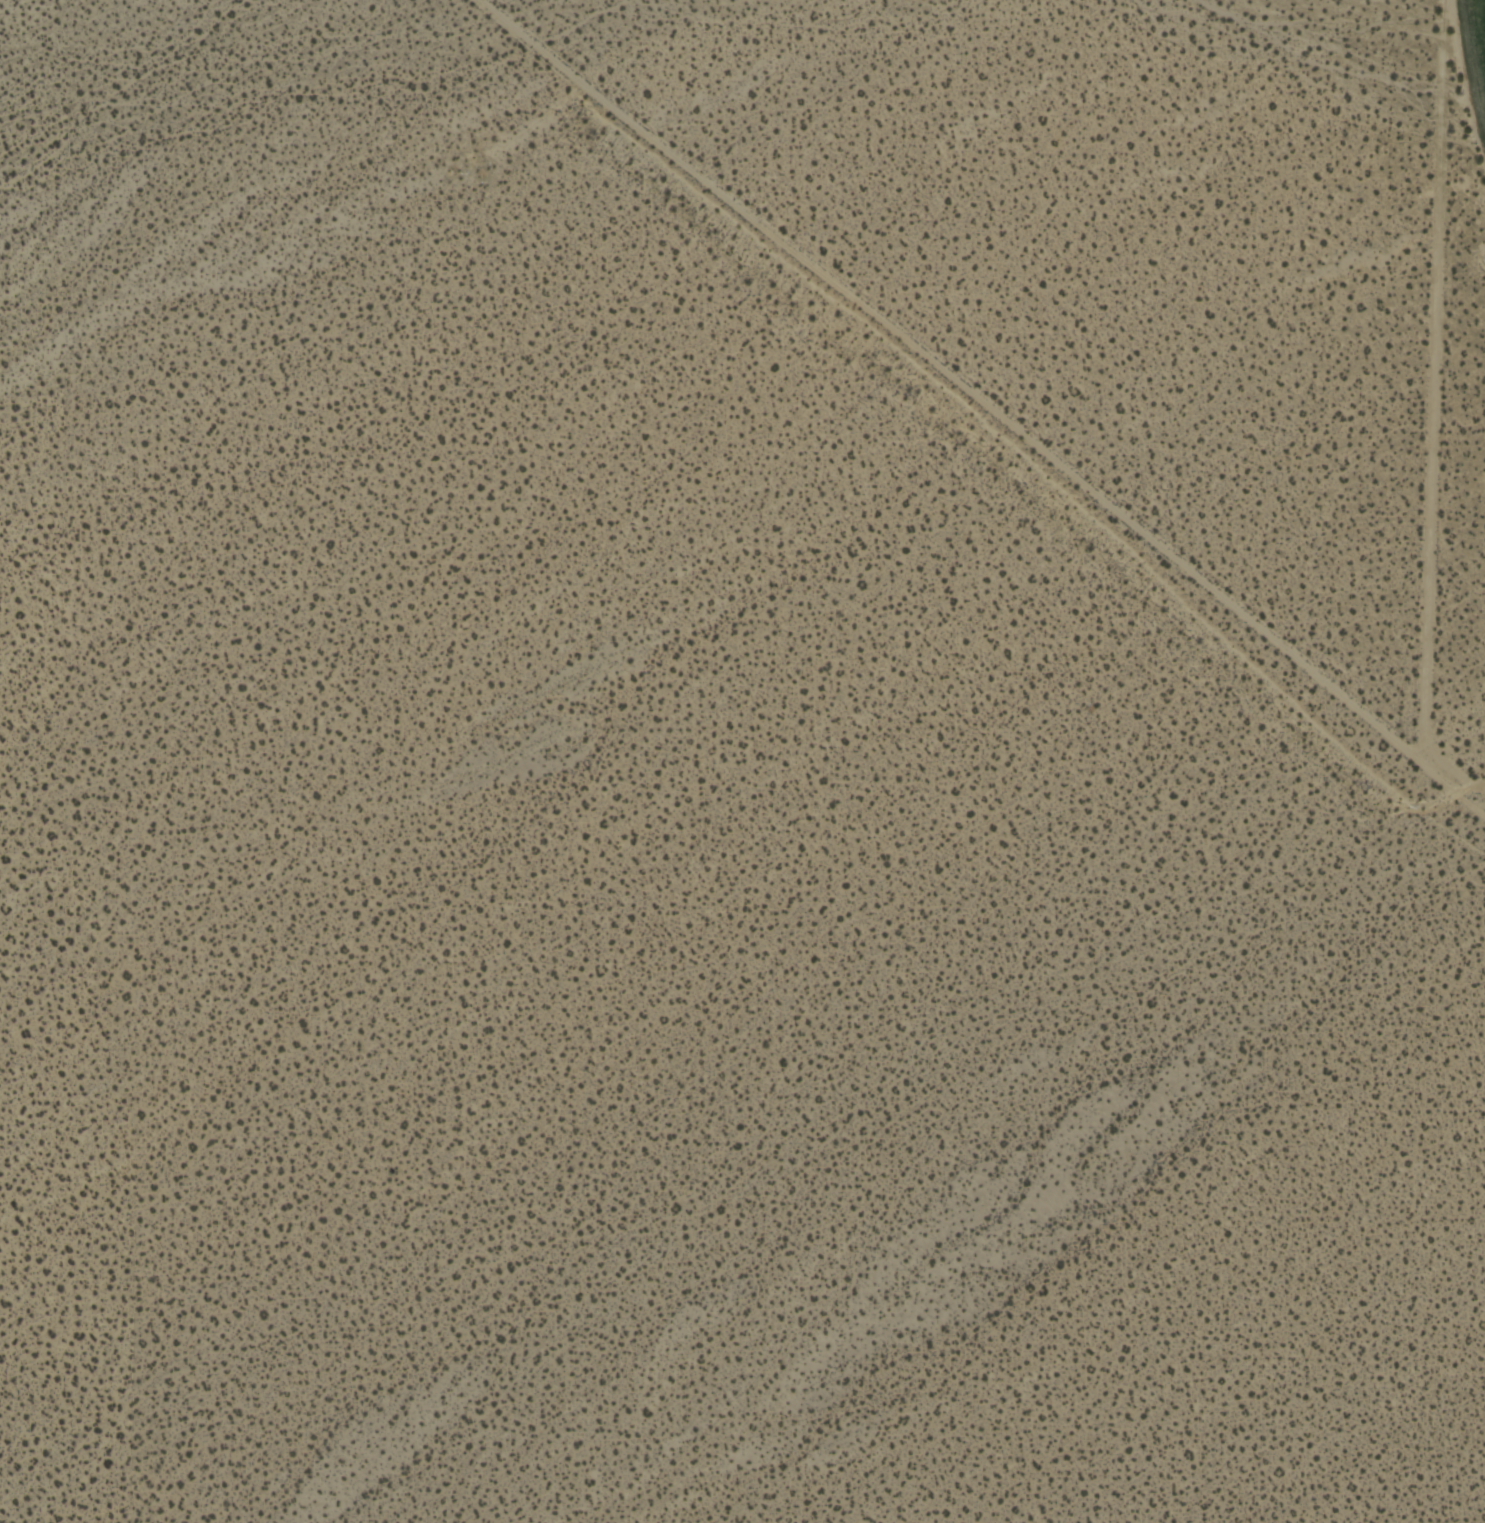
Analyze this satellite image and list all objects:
crop: (1482, 56)
road: (1438, 385)
road: (958, 410)
road: (1452, 770)

